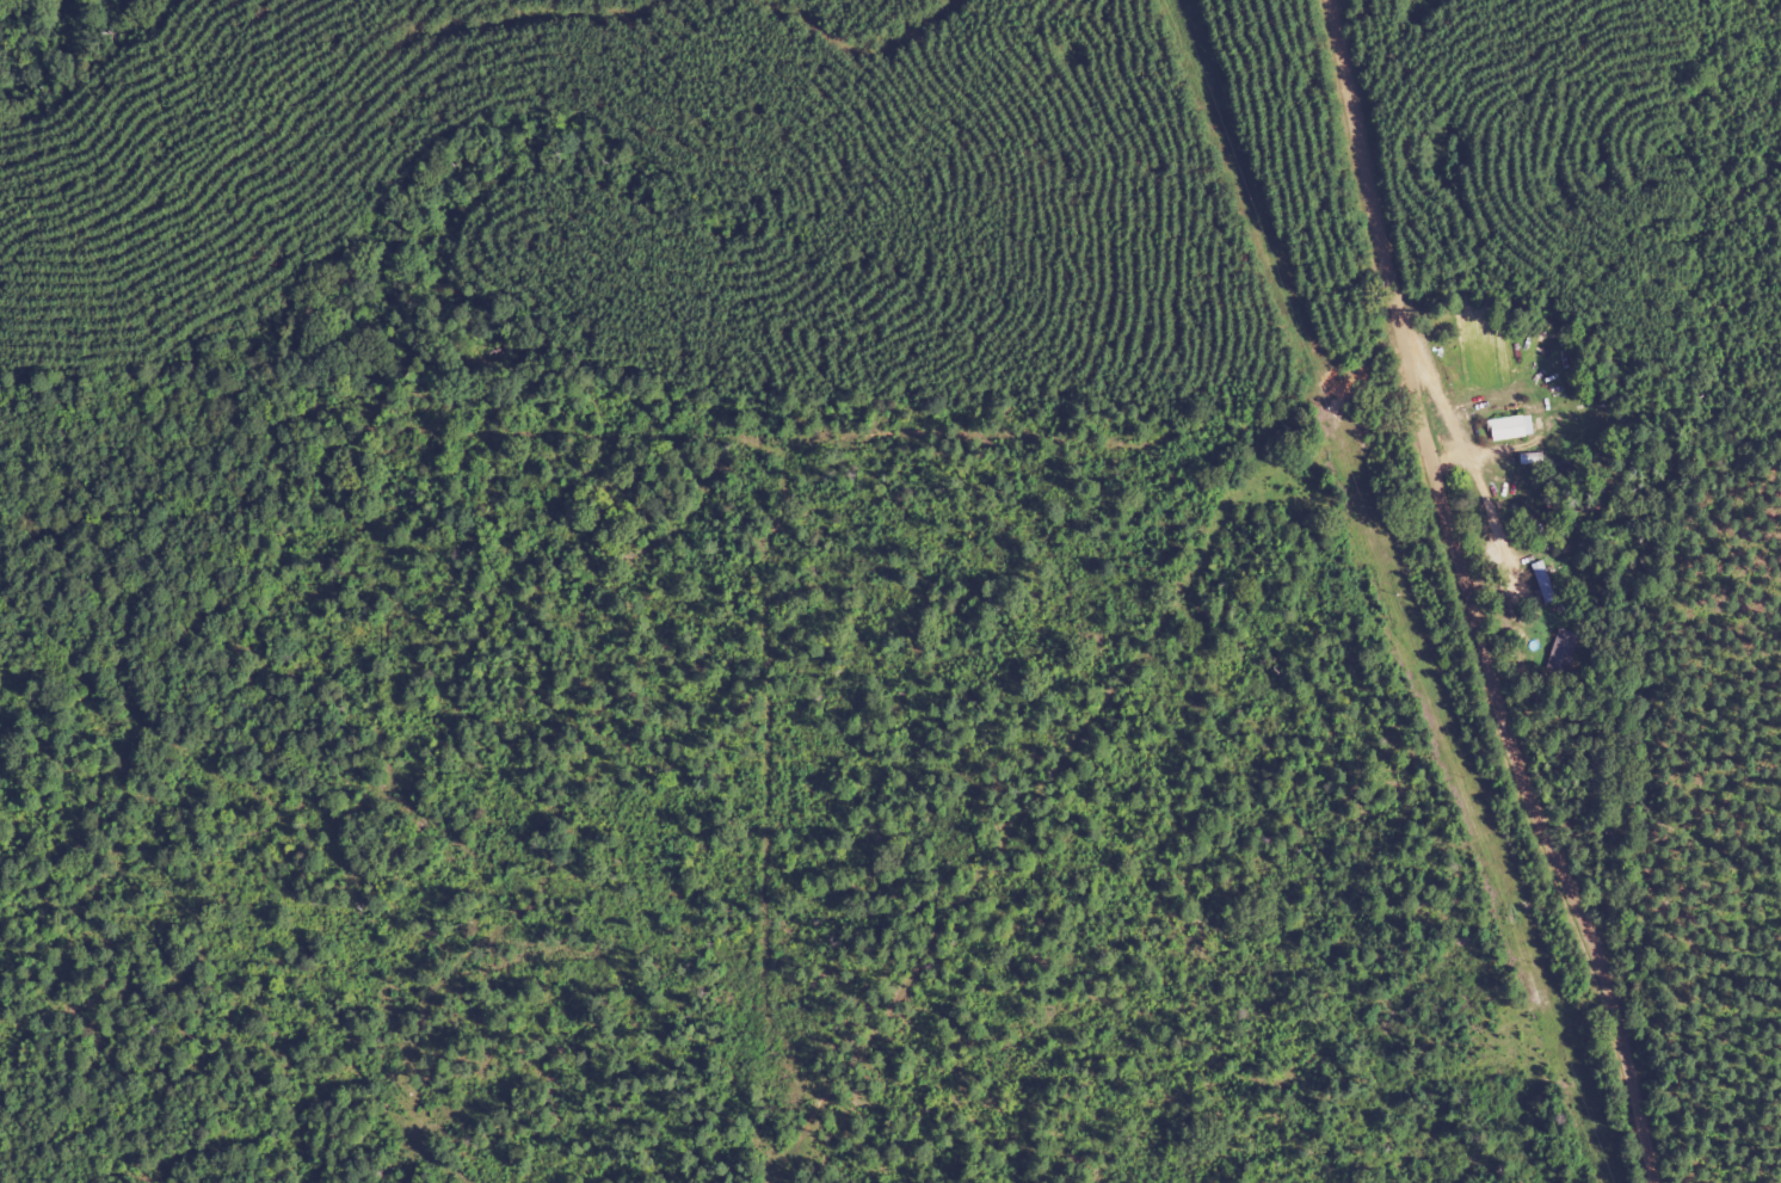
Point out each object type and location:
road: (1548, 594)
road: (1566, 1096)

